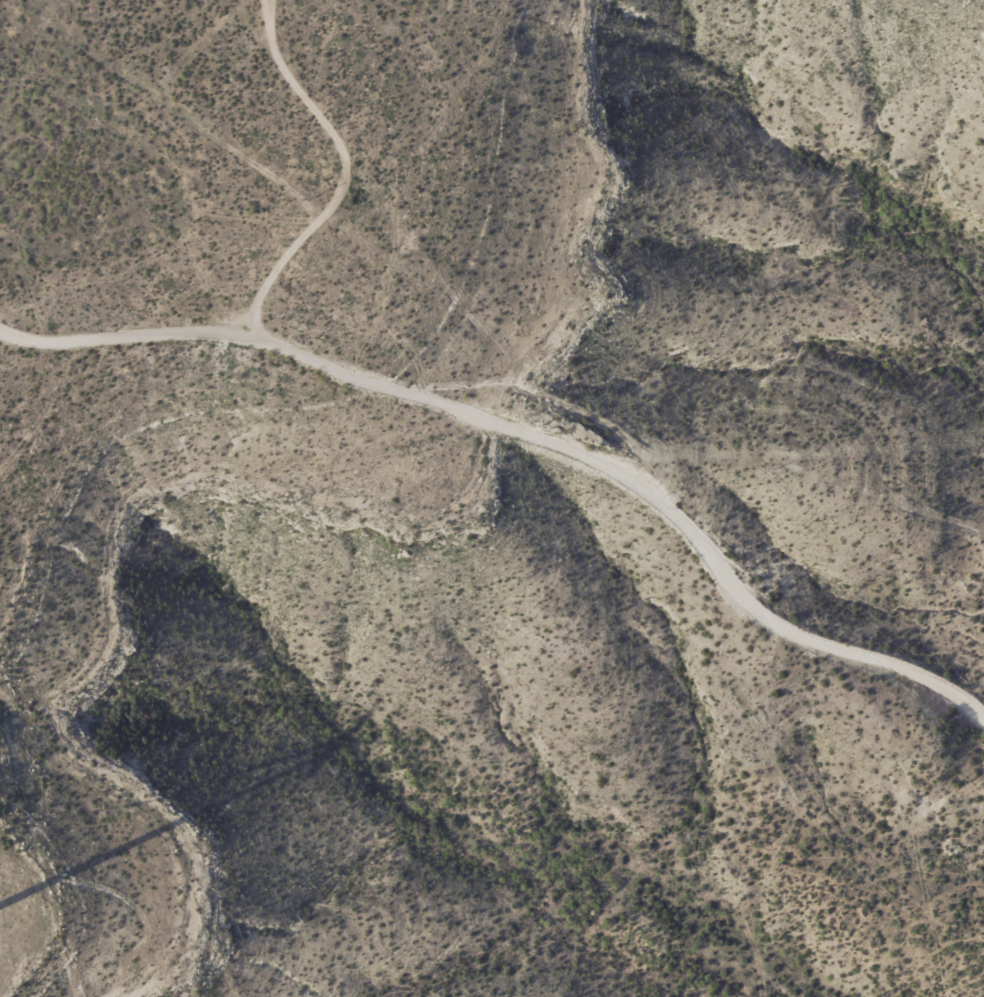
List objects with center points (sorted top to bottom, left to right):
road: (551, 431)

